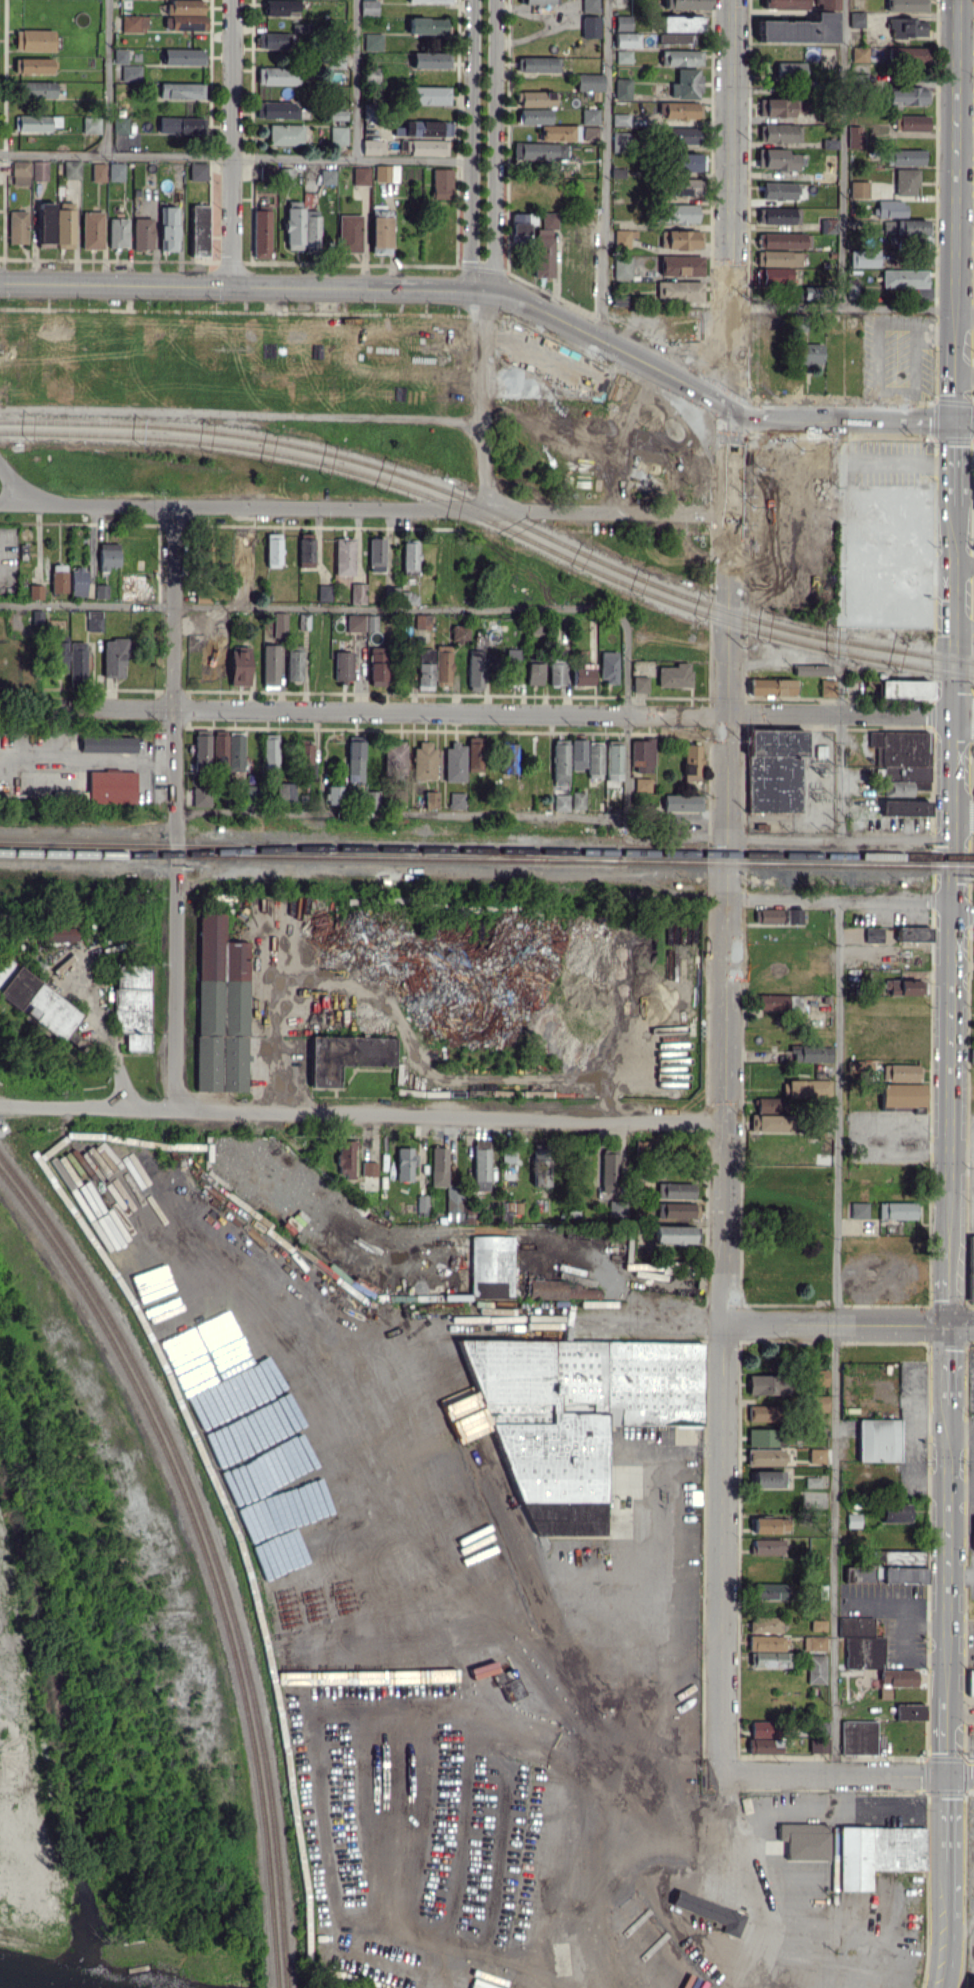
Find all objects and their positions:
building: (431, 1)
building: (535, 1)
building: (686, 4)
building: (784, 4)
building: (826, 4)
building: (590, 5)
building: (906, 5)
building: (281, 7)
building: (368, 7)
building: (185, 15)
building: (855, 19)
building: (622, 22)
building: (681, 22)
building: (134, 23)
building: (427, 25)
building: (590, 26)
building: (302, 27)
building: (906, 28)
building: (800, 29)
building: (676, 37)
building: (626, 39)
building: (33, 40)
building: (271, 40)
building: (372, 41)
building: (859, 53)
building: (907, 55)
building: (120, 56)
building: (182, 56)
building: (623, 56)
building: (681, 57)
building: (428, 59)
building: (540, 64)
building: (33, 65)
building: (790, 71)
building: (130, 72)
building: (275, 75)
road: (108, 77)
road: (356, 79)
building: (589, 82)
building: (686, 83)
building: (622, 88)
building: (36, 89)
building: (181, 90)
building: (428, 94)
building: (906, 96)
building: (535, 98)
building: (802, 105)
building: (776, 106)
building: (276, 109)
building: (368, 110)
building: (677, 110)
building: (337, 114)
building: (590, 115)
building: (534, 116)
building: (620, 119)
building: (911, 122)
building: (36, 123)
building: (91, 124)
building: (120, 124)
building: (179, 124)
building: (426, 128)
building: (559, 132)
building: (590, 132)
building: (779, 133)
building: (285, 134)
building: (338, 135)
building: (680, 135)
building: (854, 137)
building: (620, 141)
building: (830, 143)
road: (234, 144)
building: (373, 146)
building: (428, 147)
road: (467, 147)
road: (500, 151)
building: (539, 151)
road: (729, 153)
road: (844, 154)
road: (233, 155)
building: (906, 157)
building: (776, 159)
building: (688, 162)
building: (39, 170)
building: (116, 171)
building: (197, 171)
road: (952, 171)
building: (20, 172)
building: (98, 172)
building: (618, 172)
building: (276, 173)
building: (386, 173)
building: (361, 175)
building: (327, 176)
road: (603, 176)
building: (906, 181)
building: (442, 183)
building: (683, 186)
building: (858, 189)
building: (778, 191)
building: (891, 208)
building: (680, 213)
building: (780, 215)
building: (549, 219)
building: (67, 224)
building: (294, 224)
building: (46, 225)
building: (828, 225)
building: (17, 226)
building: (521, 227)
building: (168, 228)
building: (92, 229)
building: (199, 230)
building: (311, 230)
building: (910, 230)
building: (118, 232)
building: (142, 233)
building: (261, 233)
building: (349, 233)
building: (380, 234)
building: (624, 238)
building: (681, 239)
building: (783, 240)
building: (543, 257)
building: (778, 257)
building: (865, 258)
building: (681, 265)
building: (622, 267)
building: (773, 276)
building: (904, 278)
road: (355, 289)
building: (679, 291)
building: (809, 292)
road: (851, 309)
road: (353, 325)
road: (722, 340)
road: (738, 340)
building: (809, 353)
road: (951, 382)
road: (798, 410)
road: (242, 414)
road: (870, 420)
road: (925, 421)
traffic signals: (951, 422)
road: (962, 422)
road: (800, 423)
road: (748, 443)
road: (485, 446)
road: (951, 459)
road: (896, 463)
road: (25, 486)
road: (322, 508)
railway: (493, 511)
building: (780, 514)
building: (801, 521)
railway: (493, 522)
building: (273, 549)
building: (305, 549)
building: (376, 554)
building: (108, 555)
building: (242, 555)
building: (345, 556)
building: (410, 558)
road: (951, 561)
road: (963, 565)
road: (718, 577)
building: (59, 578)
road: (735, 578)
building: (78, 582)
building: (131, 586)
building: (241, 589)
building: (36, 591)
building: (101, 591)
building: (324, 592)
building: (358, 593)
railway: (486, 603)
road: (295, 608)
building: (93, 620)
building: (423, 621)
railway: (486, 621)
building: (361, 622)
building: (216, 624)
building: (280, 624)
road: (963, 626)
road: (840, 628)
building: (459, 632)
road: (628, 650)
road: (952, 656)
building: (59, 657)
building: (114, 657)
building: (77, 661)
building: (215, 662)
building: (270, 664)
building: (294, 665)
building: (343, 665)
building: (442, 665)
building: (239, 666)
building: (377, 666)
building: (513, 666)
building: (608, 667)
building: (424, 668)
building: (812, 669)
building: (475, 670)
building: (556, 672)
building: (533, 673)
building: (583, 674)
building: (674, 675)
building: (640, 683)
building: (771, 686)
building: (827, 687)
building: (871, 687)
building: (904, 688)
road: (961, 699)
road: (953, 702)
road: (503, 711)
road: (953, 728)
road: (963, 734)
building: (108, 744)
building: (219, 747)
building: (201, 748)
building: (235, 751)
building: (269, 751)
building: (474, 753)
building: (394, 754)
building: (577, 754)
building: (642, 755)
building: (508, 758)
building: (594, 758)
building: (307, 759)
building: (423, 759)
building: (560, 760)
building: (613, 760)
building: (355, 761)
building: (455, 761)
building: (902, 762)
building: (691, 763)
road: (728, 763)
road: (626, 765)
building: (774, 769)
building: (642, 784)
building: (111, 787)
building: (285, 793)
building: (334, 794)
building: (201, 796)
building: (431, 799)
building: (456, 800)
building: (577, 800)
building: (560, 802)
building: (681, 803)
building: (904, 807)
road: (176, 808)
road: (401, 814)
road: (963, 819)
road: (953, 821)
road: (843, 838)
railway: (1, 842)
railway: (230, 850)
railway: (488, 850)
railway: (514, 855)
road: (717, 855)
road: (735, 855)
railway: (486, 860)
road: (840, 901)
road: (963, 907)
road: (953, 911)
building: (779, 916)
building: (913, 933)
building: (60, 934)
building: (873, 934)
building: (903, 987)
building: (35, 1000)
building: (771, 1001)
building: (132, 1005)
building: (221, 1007)
road: (108, 1034)
building: (811, 1053)
building: (346, 1055)
building: (779, 1055)
road: (952, 1055)
railway: (663, 1061)
building: (860, 1066)
building: (899, 1072)
road: (726, 1078)
building: (806, 1088)
building: (902, 1095)
building: (771, 1104)
road: (88, 1107)
road: (451, 1117)
building: (771, 1122)
building: (818, 1127)
building: (508, 1155)
building: (345, 1158)
building: (405, 1163)
building: (481, 1164)
building: (540, 1164)
building: (438, 1166)
building: (369, 1168)
building: (609, 1172)
building: (675, 1190)
building: (422, 1203)
building: (457, 1205)
building: (617, 1208)
building: (859, 1209)
building: (677, 1210)
building: (897, 1210)
building: (673, 1234)
road: (963, 1236)
road: (942, 1238)
building: (492, 1266)
building: (669, 1267)
building: (971, 1269)
road: (800, 1276)
road: (950, 1278)
building: (547, 1289)
building: (581, 1291)
road: (876, 1300)
road: (878, 1315)
road: (906, 1318)
road: (589, 1321)
road: (837, 1337)
road: (378, 1351)
road: (972, 1357)
road: (946, 1363)
building: (768, 1384)
road: (937, 1388)
road: (958, 1389)
building: (818, 1403)
building: (763, 1413)
building: (576, 1415)
building: (766, 1437)
building: (879, 1439)
road: (949, 1440)
building: (818, 1455)
railway: (176, 1457)
building: (766, 1457)
building: (767, 1478)
building: (813, 1481)
road: (725, 1504)
building: (895, 1512)
building: (853, 1520)
building: (771, 1525)
building: (973, 1533)
building: (767, 1546)
road: (948, 1548)
railway: (204, 1557)
building: (901, 1566)
building: (768, 1590)
building: (765, 1624)
building: (818, 1625)
building: (767, 1643)
building: (814, 1643)
building: (861, 1643)
building: (771, 1659)
road: (947, 1667)
building: (816, 1669)
building: (895, 1680)
building: (970, 1682)
building: (509, 1684)
building: (910, 1711)
building: (762, 1728)
road: (947, 1735)
building: (858, 1737)
building: (764, 1745)
road: (835, 1774)
traffic signals: (947, 1775)
road: (960, 1775)
road: (947, 1816)
building: (804, 1840)
road: (735, 1887)
railway: (279, 1890)
building: (709, 1911)
road: (947, 1923)
building: (969, 1983)
river: (7, 1986)

